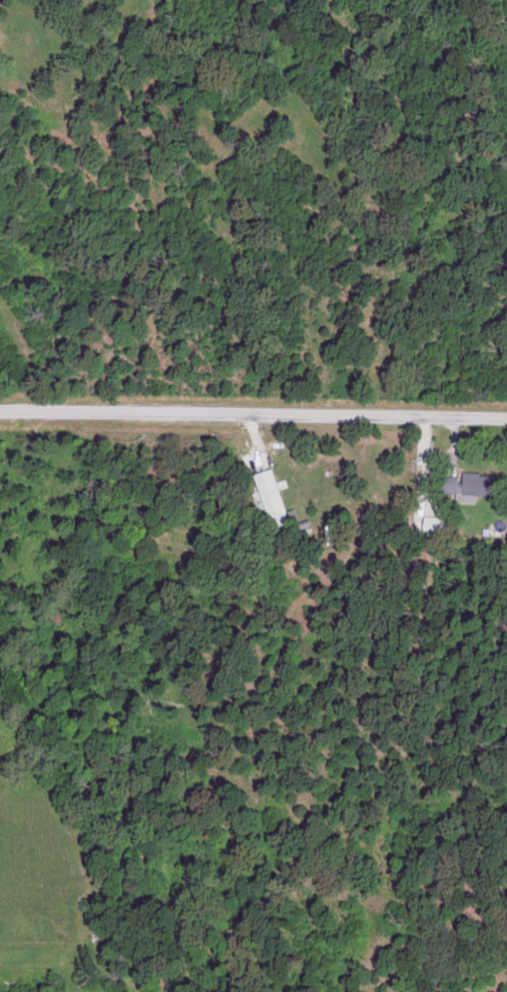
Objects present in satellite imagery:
road: (253, 416)
building: (469, 483)
building: (268, 495)
building: (430, 522)

